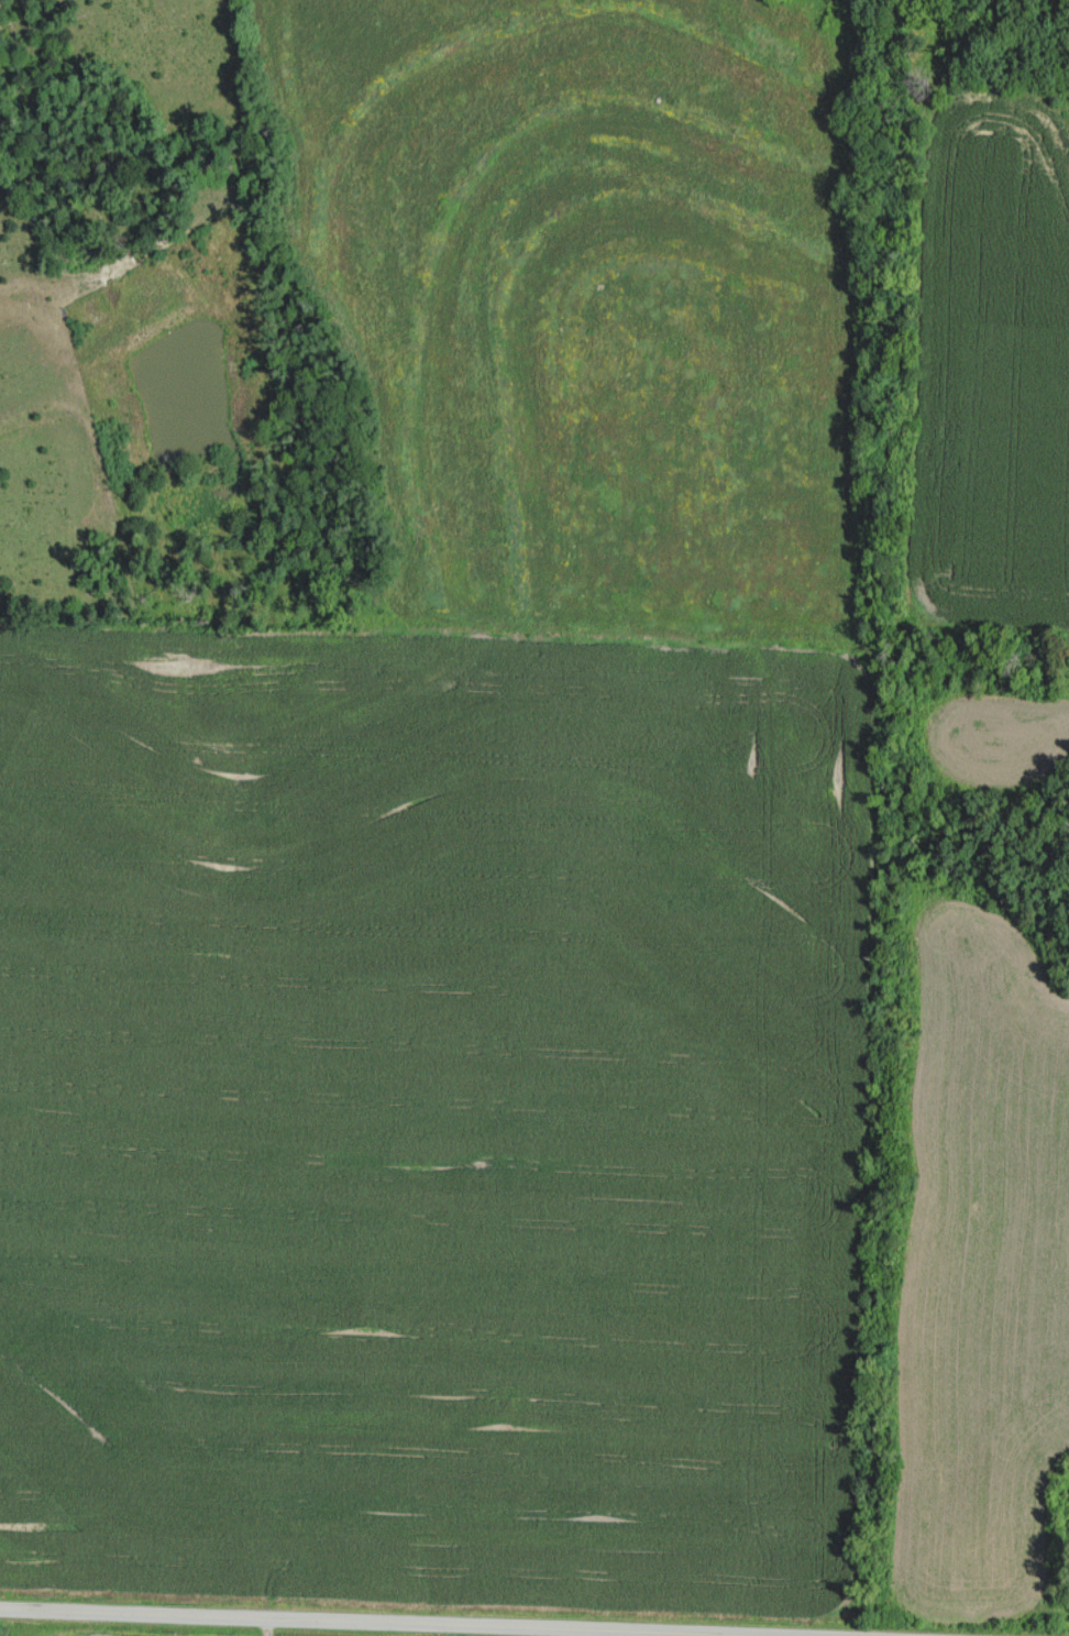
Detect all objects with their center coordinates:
road: (425, 1622)

